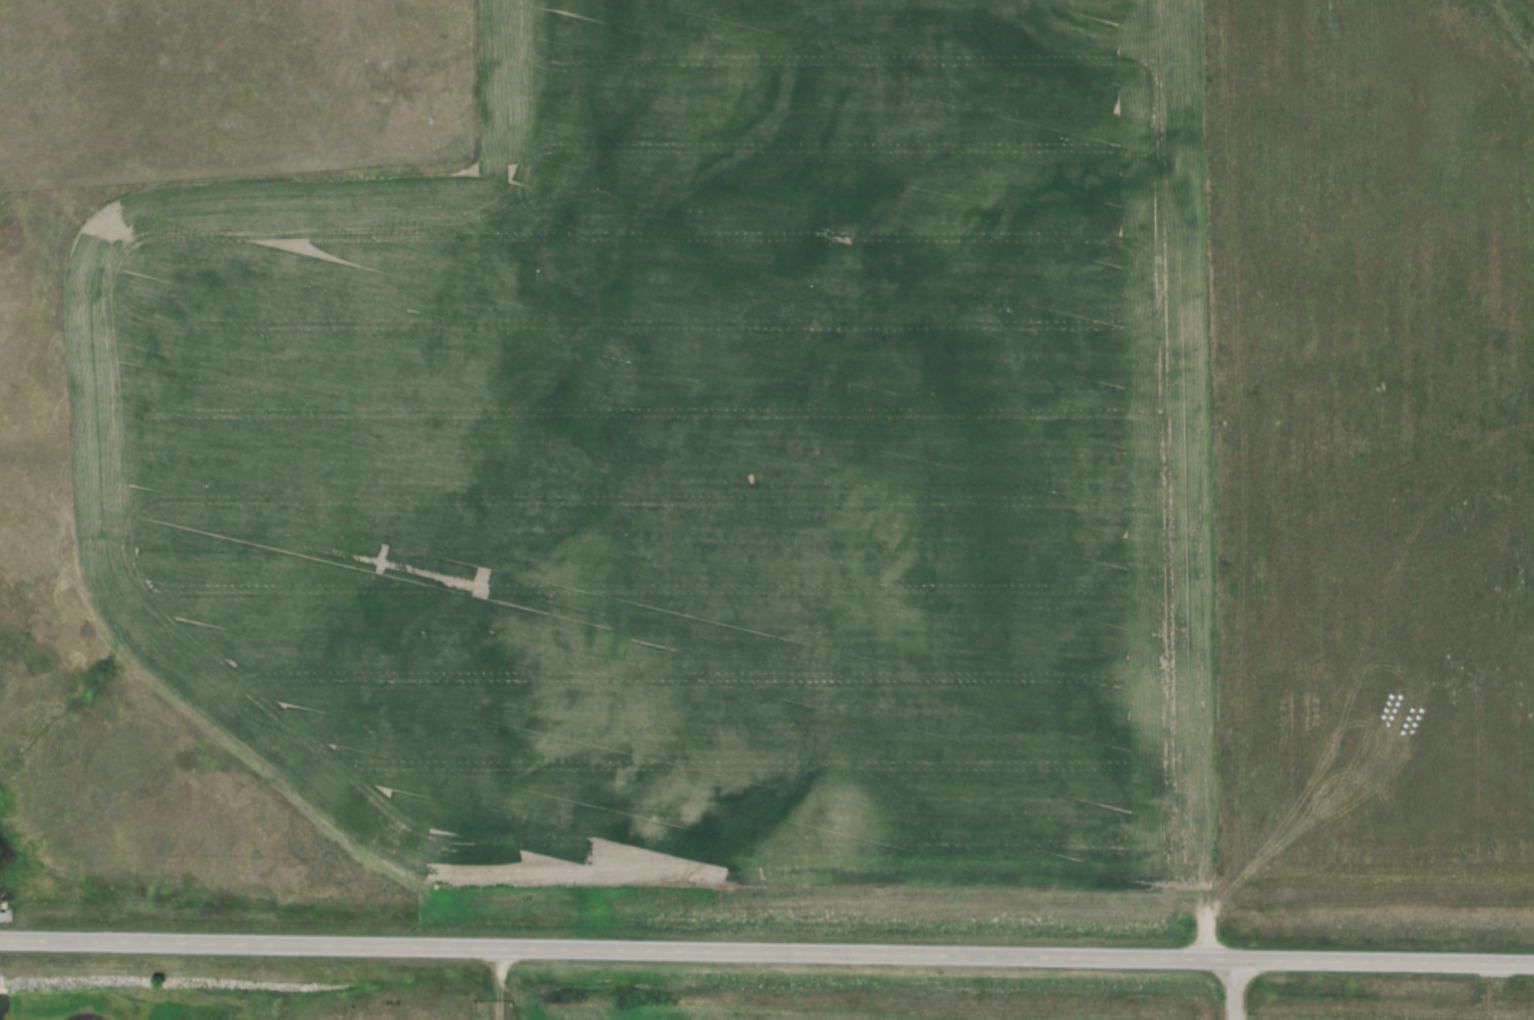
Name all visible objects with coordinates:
road: (767, 946)

